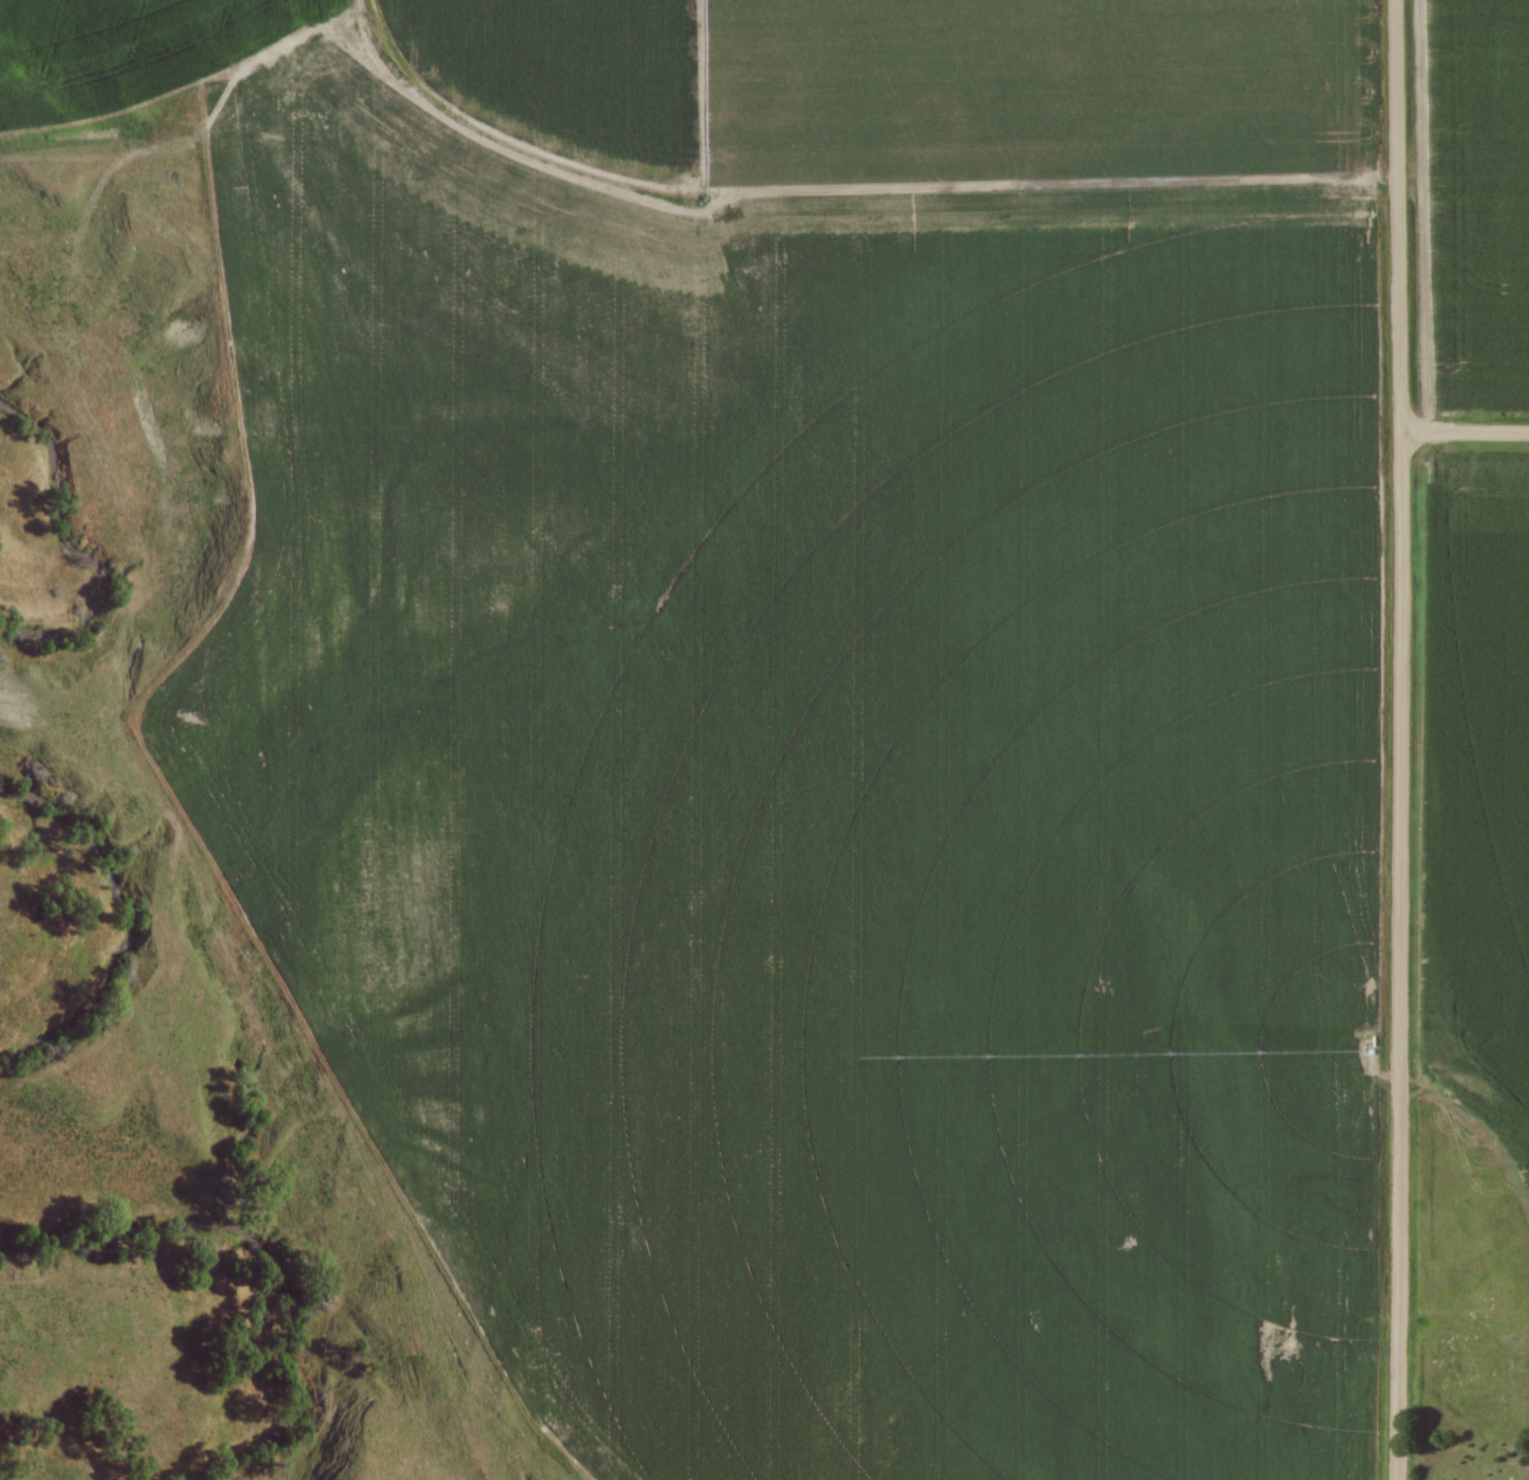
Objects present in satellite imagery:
road: (1467, 433)
road: (1402, 739)

